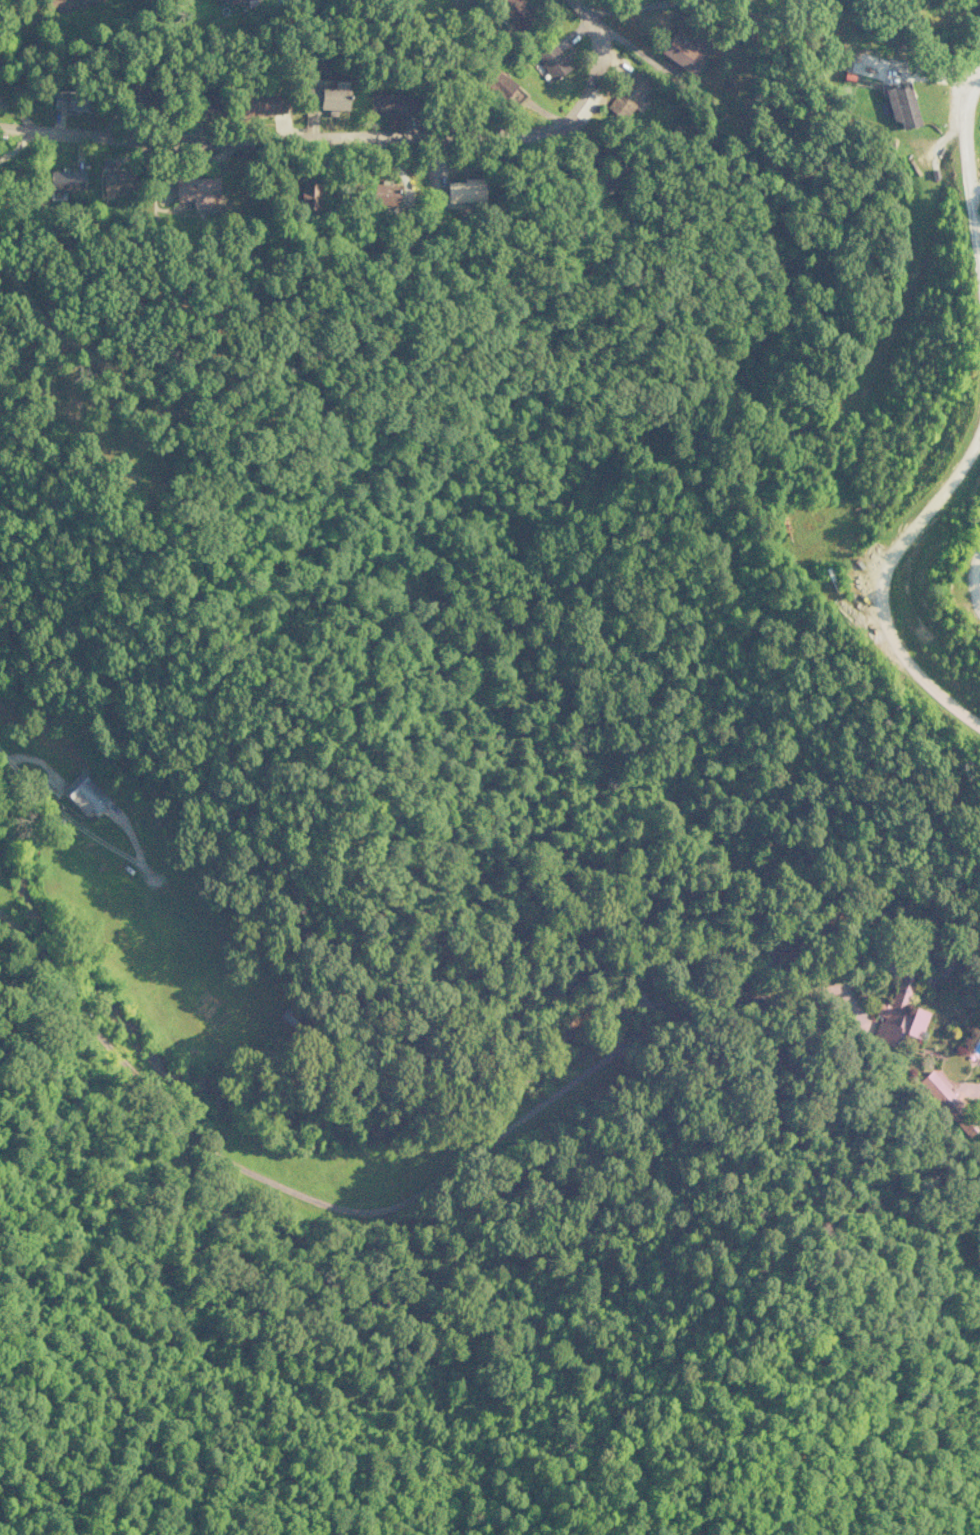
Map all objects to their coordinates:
building: (226, 0)
building: (60, 2)
building: (681, 51)
building: (552, 61)
building: (504, 89)
building: (627, 96)
building: (327, 97)
building: (68, 99)
building: (262, 103)
building: (391, 104)
building: (901, 104)
building: (208, 108)
road: (354, 137)
road: (966, 172)
building: (65, 180)
building: (118, 180)
building: (464, 190)
building: (196, 191)
building: (308, 193)
building: (384, 194)
road: (972, 579)
road: (879, 583)
building: (83, 793)
road: (86, 800)
building: (898, 1014)
building: (288, 1015)
building: (939, 1090)
road: (911, 1129)
road: (480, 1163)

